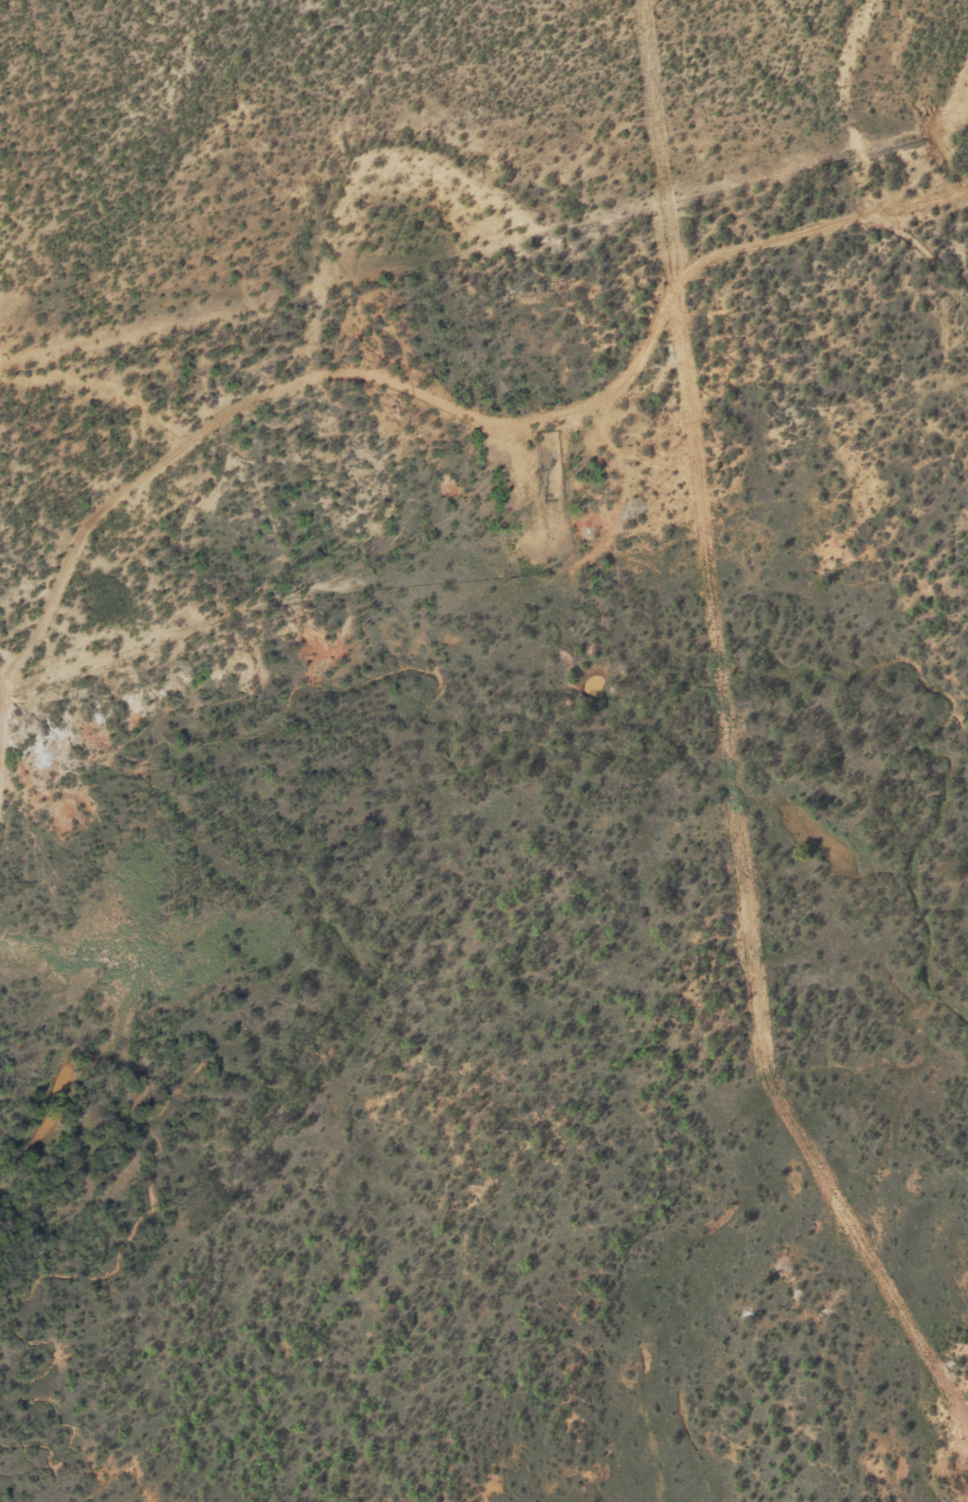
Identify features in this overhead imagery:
road: (374, 383)

